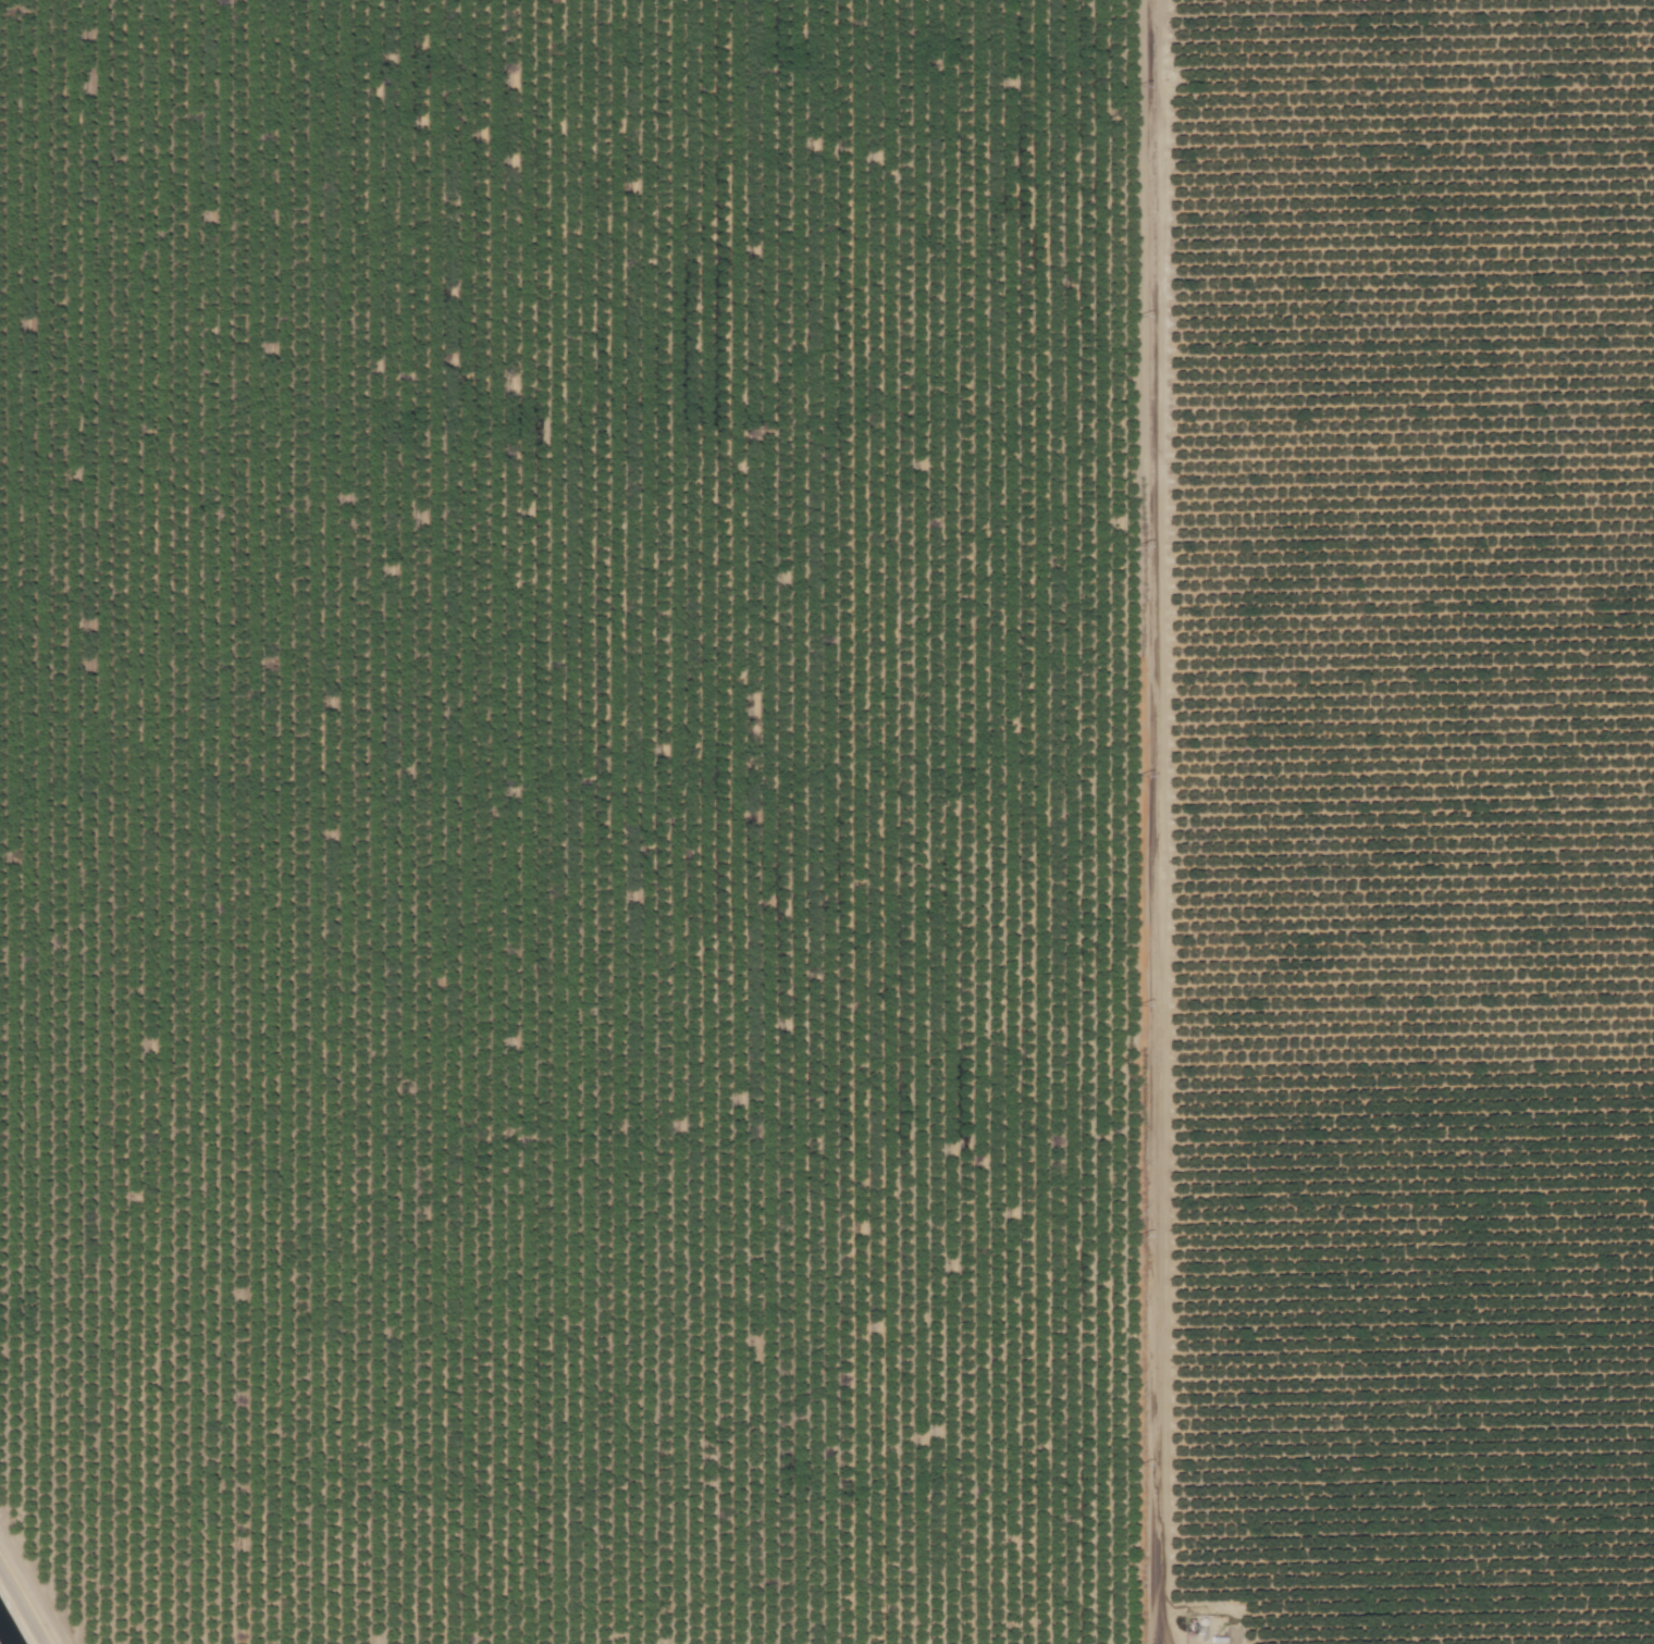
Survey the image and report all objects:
road: (1171, 821)

